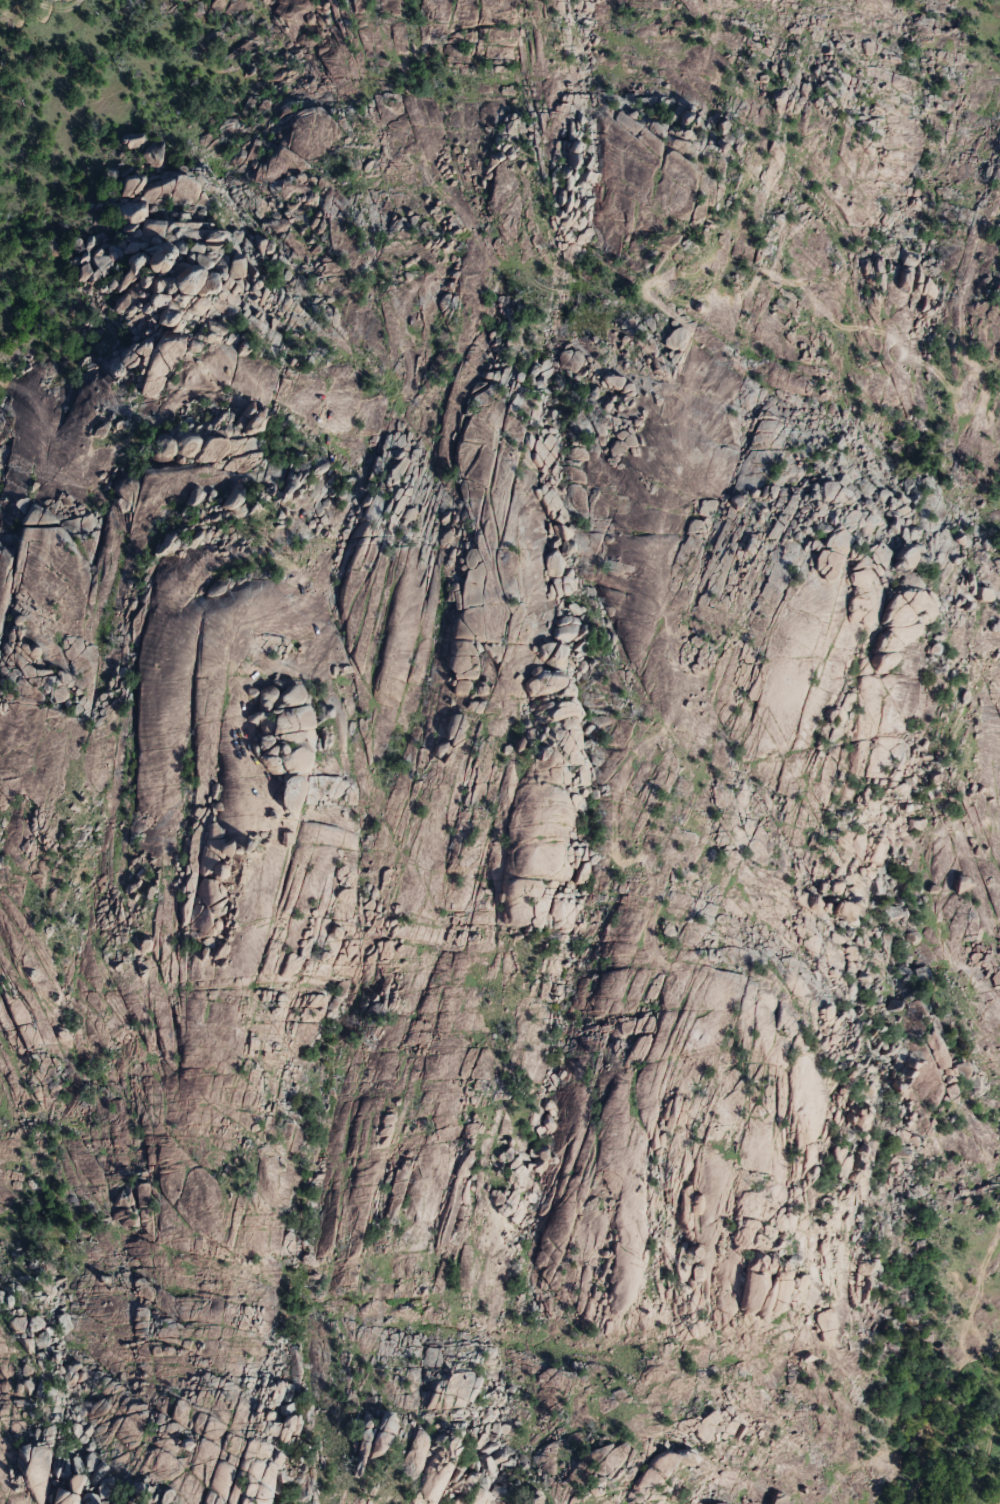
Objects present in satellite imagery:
building: (131, 186)
building: (140, 219)
building: (161, 258)
building: (220, 273)
building: (556, 518)
building: (828, 565)
building: (285, 715)

